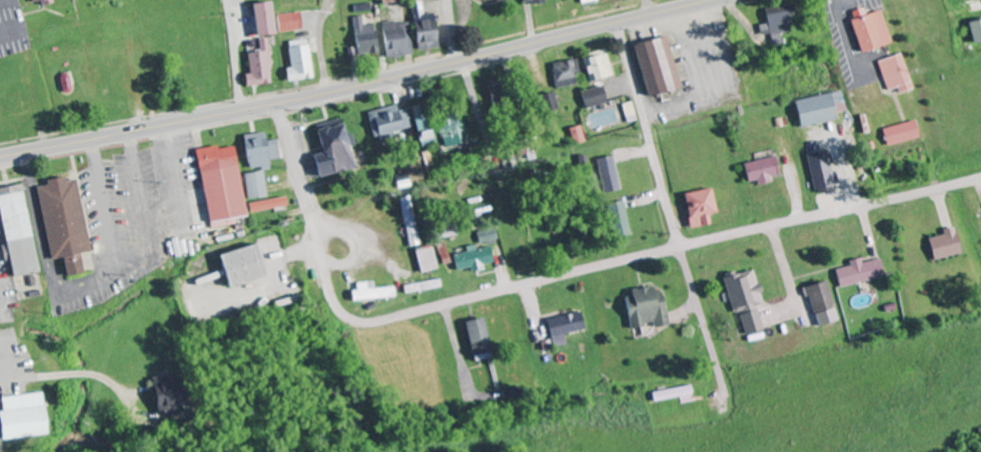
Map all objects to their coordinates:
building: (420, 13)
building: (261, 18)
building: (289, 22)
building: (776, 25)
road: (454, 31)
building: (975, 31)
building: (870, 32)
building: (425, 34)
building: (364, 38)
building: (398, 39)
road: (235, 55)
building: (298, 61)
building: (258, 66)
building: (657, 66)
building: (597, 67)
building: (566, 73)
building: (894, 74)
road: (356, 86)
building: (594, 97)
building: (548, 102)
building: (819, 109)
building: (629, 113)
building: (388, 121)
building: (419, 126)
building: (449, 131)
road: (647, 133)
building: (899, 133)
building: (577, 135)
building: (331, 150)
building: (259, 151)
building: (761, 170)
building: (820, 172)
building: (608, 174)
building: (219, 183)
building: (254, 185)
building: (266, 205)
building: (698, 208)
building: (618, 219)
building: (408, 221)
building: (62, 223)
building: (14, 232)
building: (486, 239)
building: (943, 245)
road: (135, 255)
building: (472, 258)
building: (424, 260)
building: (235, 267)
building: (858, 272)
road: (554, 275)
building: (420, 287)
building: (370, 292)
building: (744, 300)
building: (820, 304)
building: (644, 308)
building: (562, 328)
building: (476, 337)
building: (162, 394)
building: (670, 394)
building: (20, 417)

